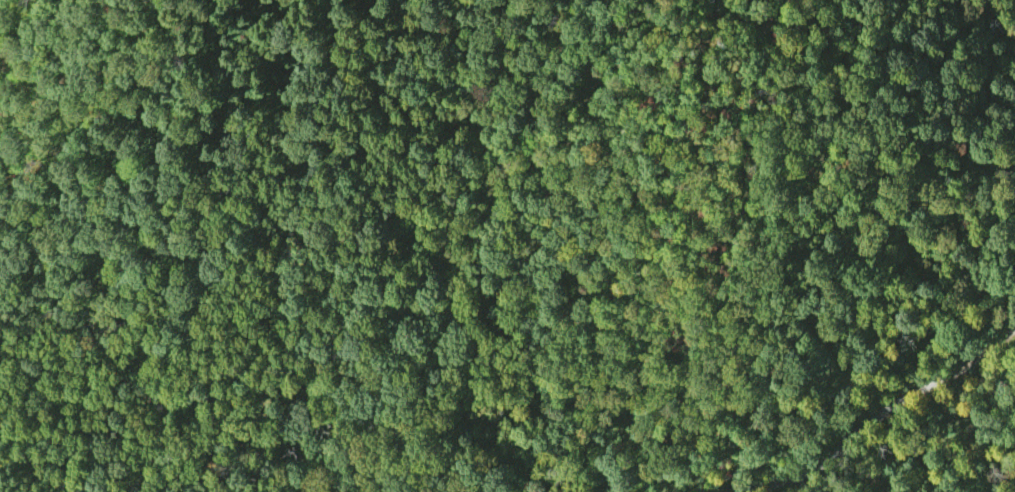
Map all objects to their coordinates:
road: (877, 415)

